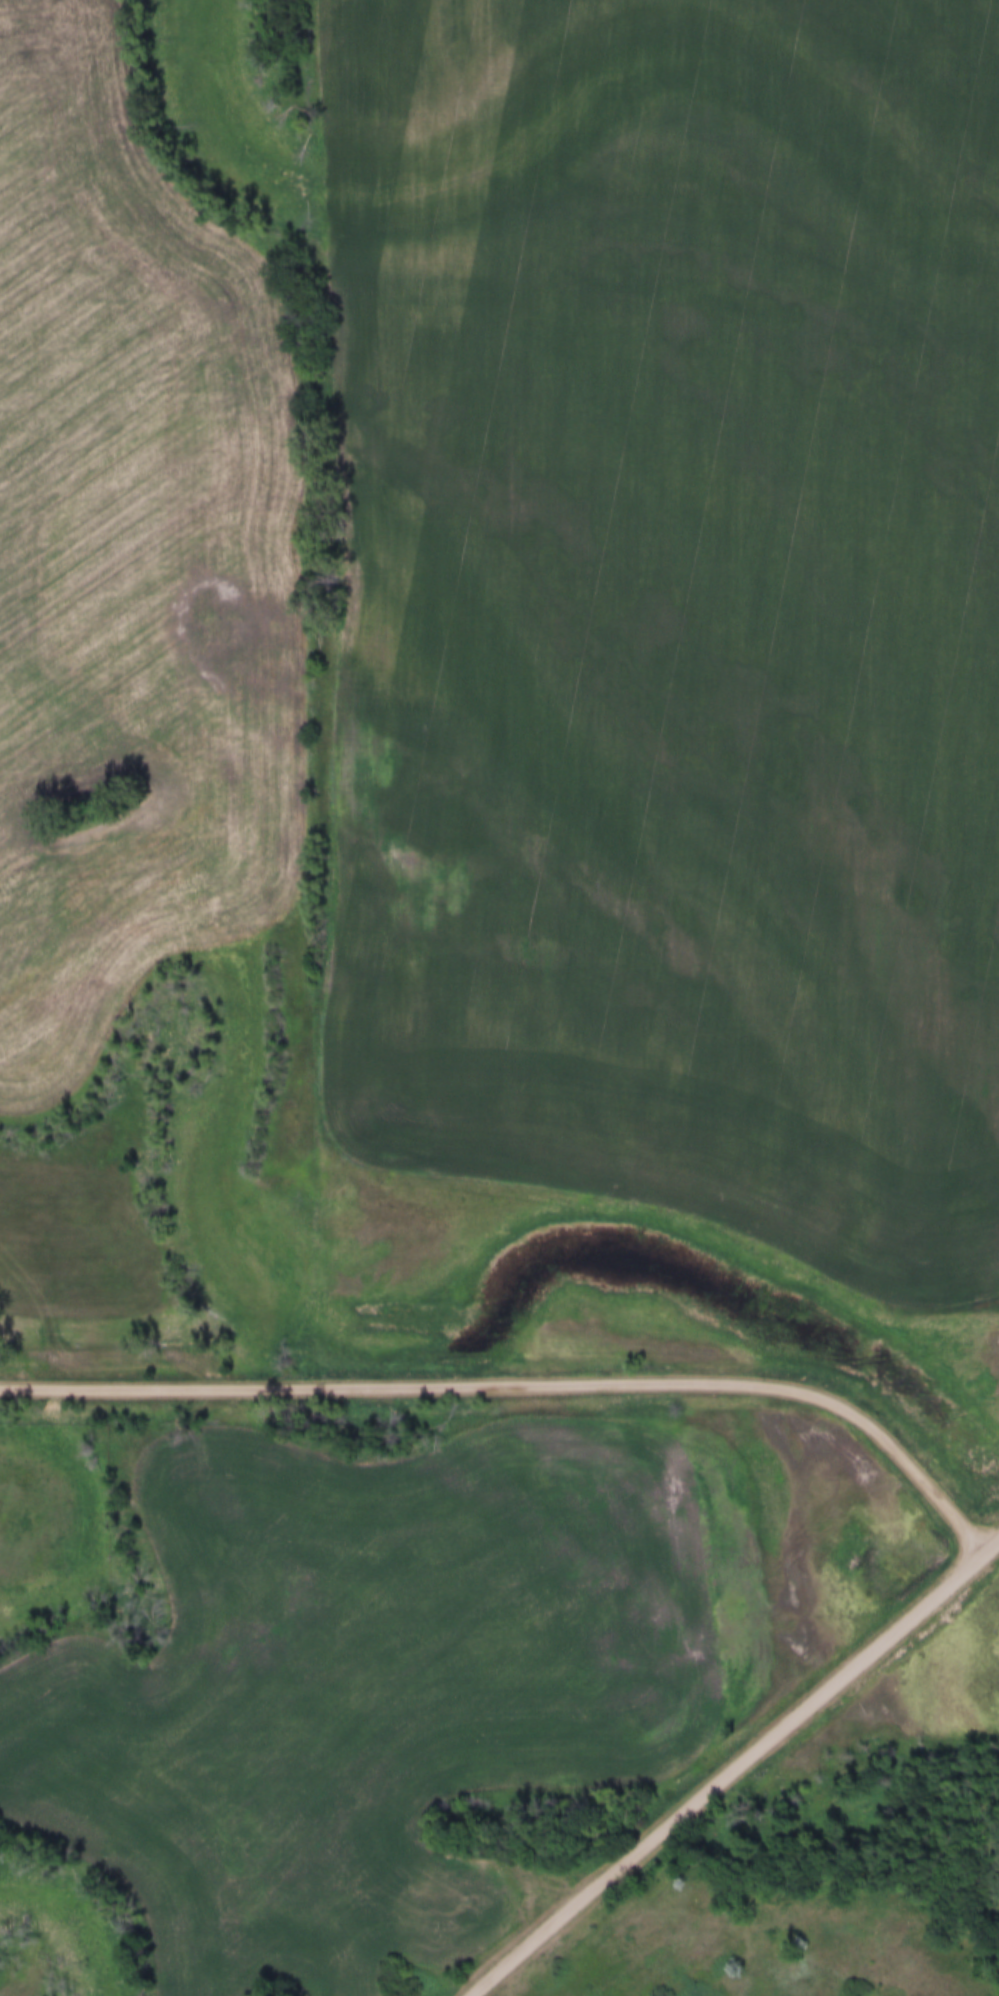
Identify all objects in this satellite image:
road: (525, 1385)
road: (734, 1767)

